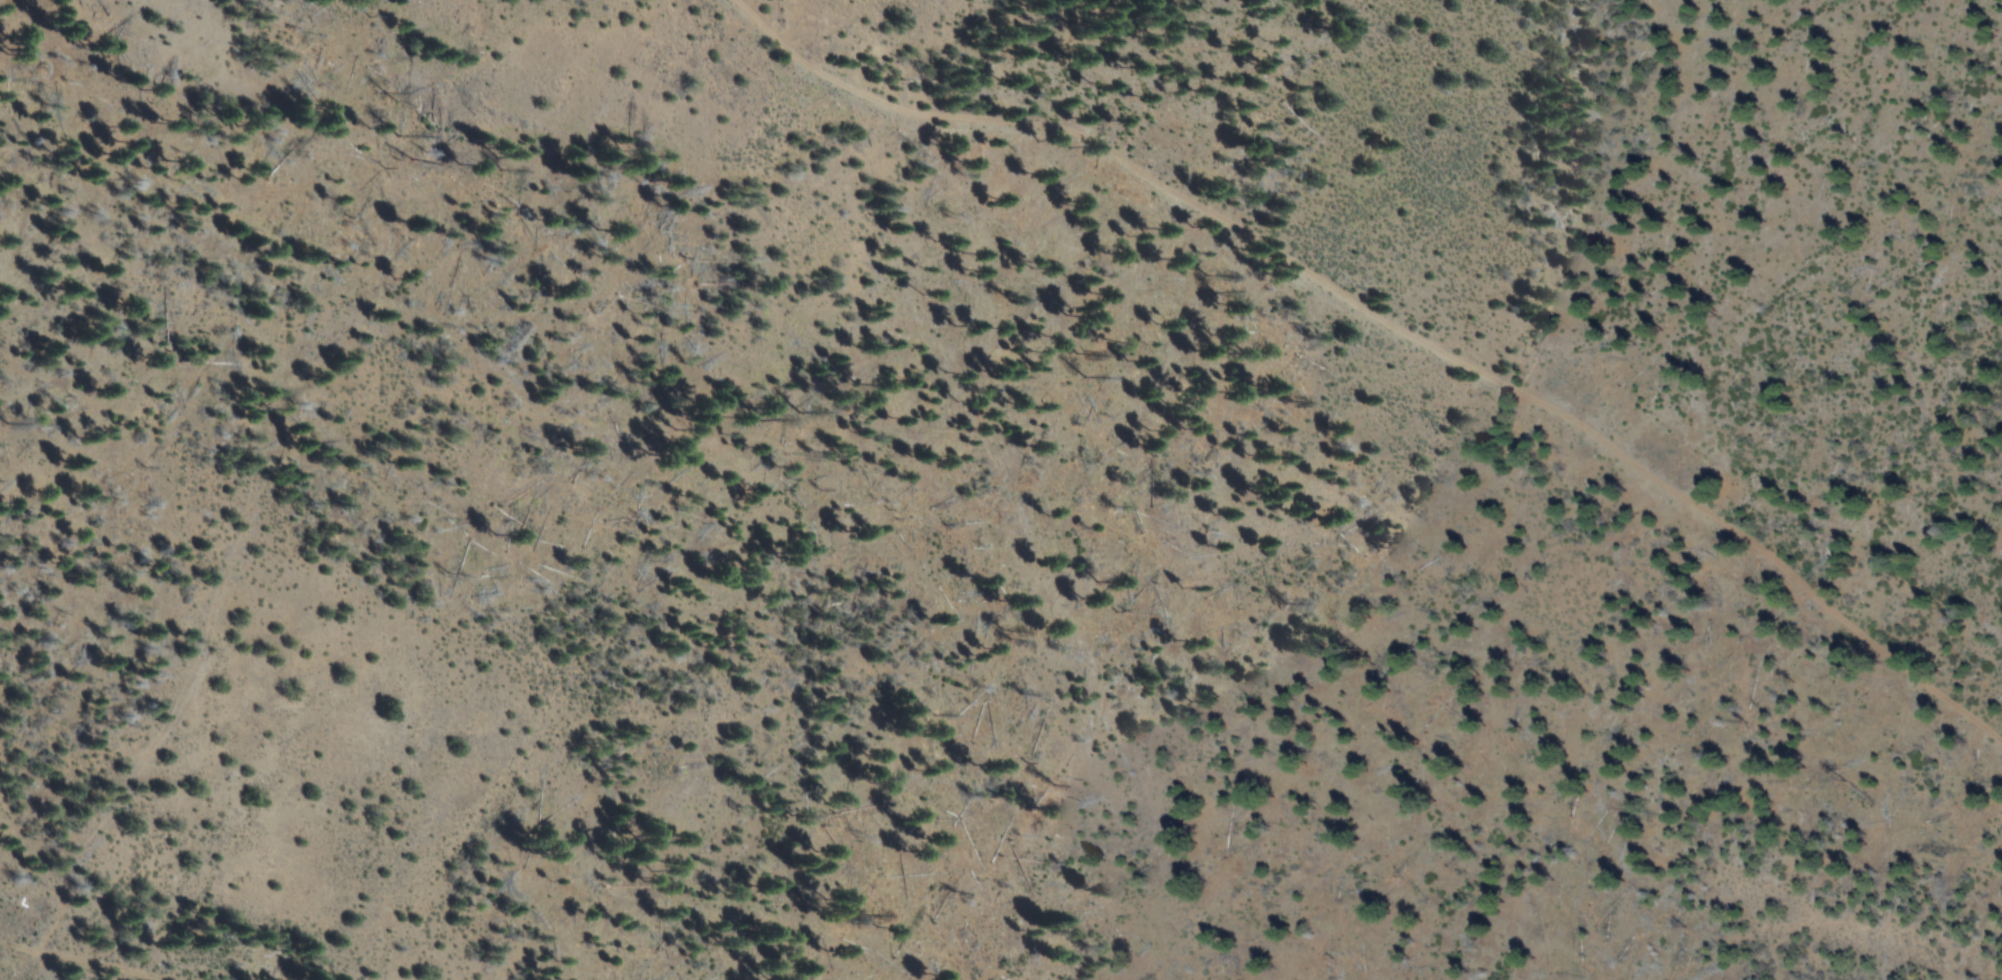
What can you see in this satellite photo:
road: (1383, 319)
road: (94, 957)

